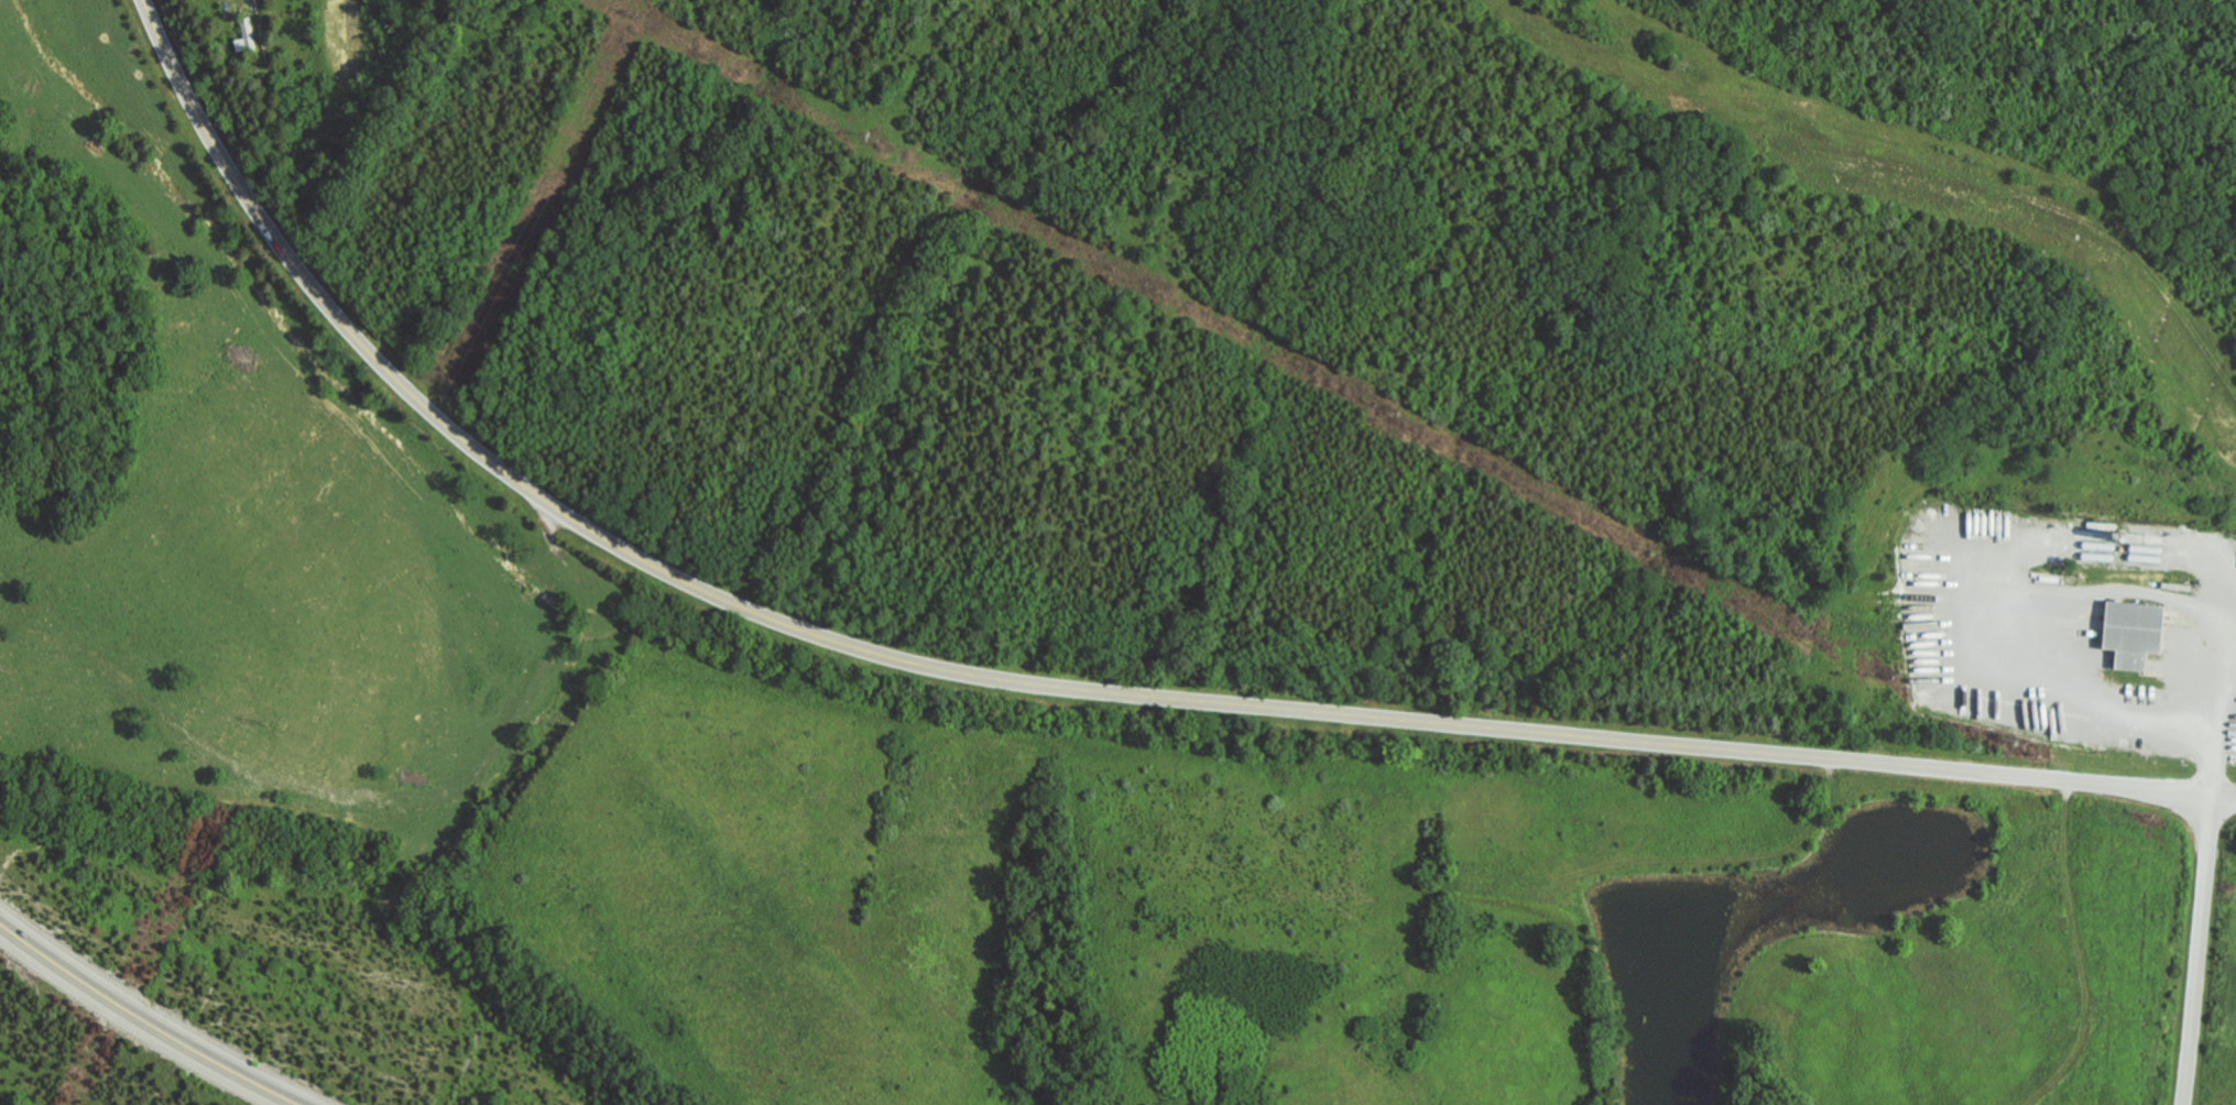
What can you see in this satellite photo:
road: (2049, 590)
road: (968, 672)
road: (2155, 788)
road: (2197, 949)
road: (145, 1019)

